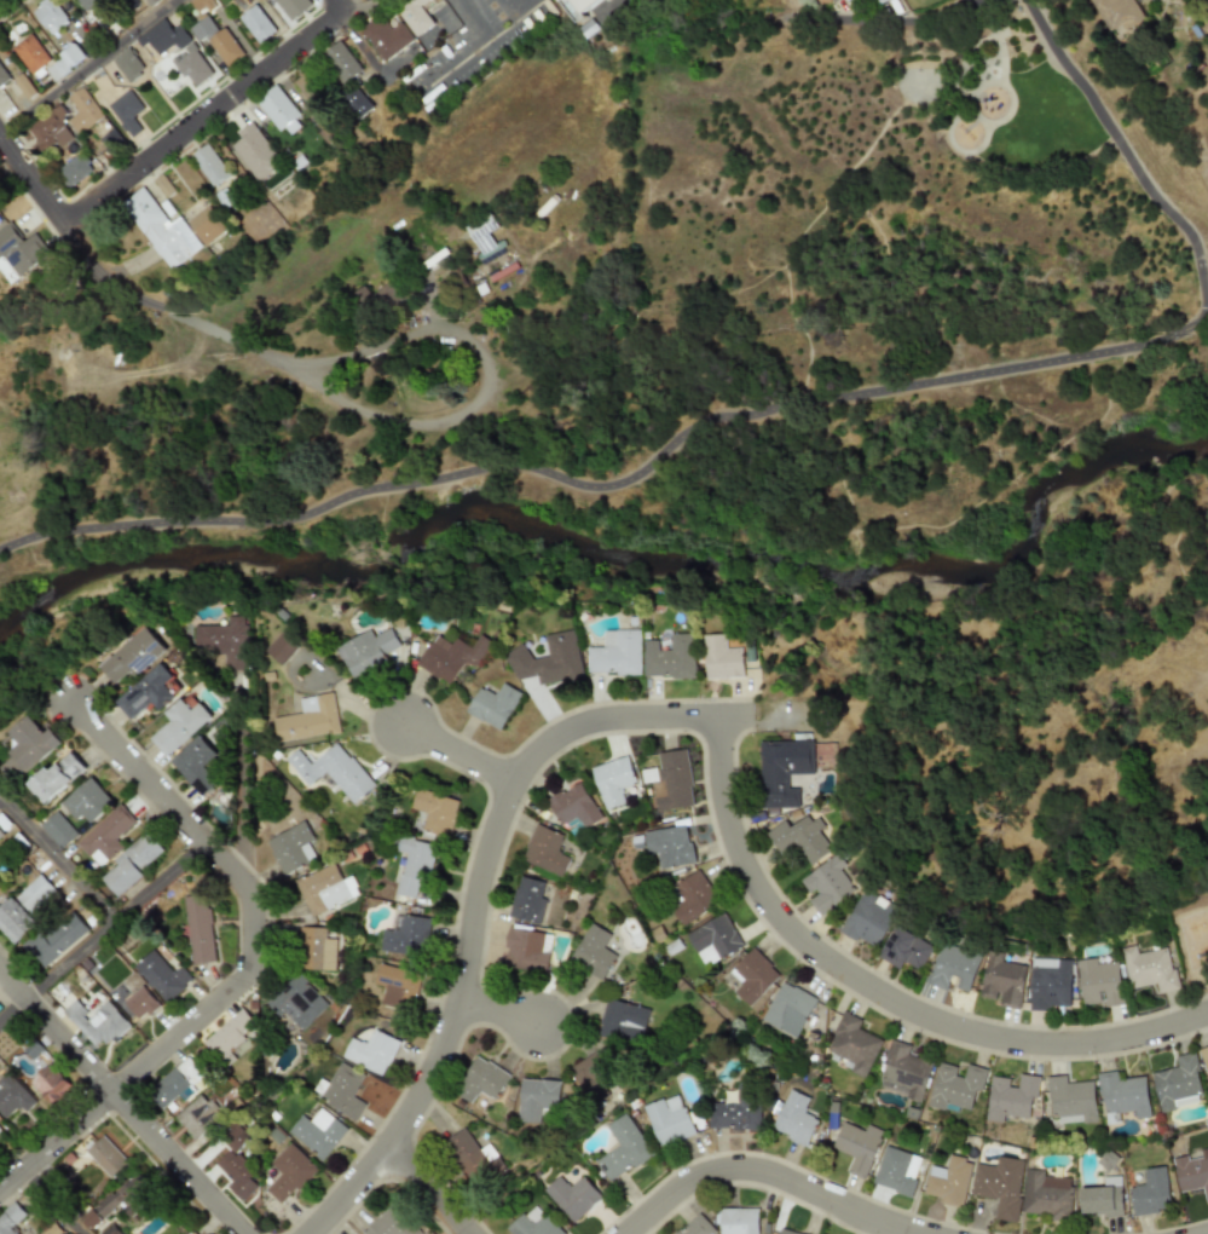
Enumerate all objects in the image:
building: (832, 0)
building: (1135, 0)
building: (879, 1)
road: (516, 2)
road: (343, 4)
building: (202, 5)
building: (295, 7)
building: (585, 7)
road: (954, 7)
building: (1115, 12)
building: (50, 16)
road: (850, 19)
building: (259, 24)
building: (388, 38)
building: (219, 40)
road: (359, 42)
road: (469, 45)
building: (31, 54)
building: (191, 54)
building: (345, 62)
building: (129, 64)
road: (88, 67)
building: (2, 77)
building: (308, 88)
building: (359, 103)
building: (85, 110)
building: (284, 111)
building: (128, 113)
road: (206, 115)
building: (52, 129)
building: (259, 152)
road: (1123, 155)
building: (213, 166)
building: (75, 171)
road: (33, 180)
building: (208, 226)
building: (163, 230)
park: (912, 231)
building: (482, 235)
building: (19, 253)
building: (374, 301)
road: (388, 341)
road: (613, 474)
river: (608, 546)
building: (225, 641)
building: (282, 648)
building: (366, 652)
building: (614, 653)
building: (134, 656)
building: (451, 656)
building: (669, 658)
building: (721, 658)
building: (548, 661)
building: (146, 693)
building: (492, 705)
building: (308, 719)
building: (179, 726)
building: (29, 746)
park: (1171, 749)
road: (459, 752)
building: (196, 765)
building: (333, 771)
building: (782, 771)
building: (56, 777)
building: (670, 780)
building: (612, 782)
road: (244, 791)
road: (158, 794)
road: (2, 796)
building: (86, 801)
building: (573, 806)
building: (435, 812)
building: (57, 830)
building: (1, 835)
building: (105, 835)
building: (800, 838)
building: (670, 846)
building: (291, 848)
building: (544, 850)
road: (62, 860)
building: (131, 864)
building: (412, 867)
building: (827, 886)
building: (324, 889)
building: (34, 894)
road: (478, 898)
building: (693, 898)
building: (527, 900)
building: (869, 919)
building: (12, 921)
building: (198, 929)
road: (103, 934)
building: (406, 938)
building: (53, 940)
building: (715, 940)
building: (316, 950)
building: (904, 950)
building: (525, 951)
building: (593, 952)
building: (954, 968)
building: (1149, 968)
building: (161, 976)
building: (752, 976)
building: (1002, 980)
building: (1099, 982)
building: (1050, 984)
building: (397, 987)
road: (880, 992)
building: (296, 1002)
building: (140, 1003)
building: (788, 1009)
road: (499, 1015)
building: (96, 1022)
building: (229, 1036)
building: (852, 1045)
building: (607, 1048)
building: (371, 1049)
road: (158, 1054)
building: (1204, 1055)
building: (903, 1072)
building: (480, 1080)
building: (173, 1083)
building: (51, 1084)
building: (1177, 1084)
building: (955, 1086)
building: (341, 1091)
building: (13, 1096)
building: (1122, 1096)
building: (1011, 1097)
building: (537, 1099)
building: (1070, 1100)
road: (122, 1102)
building: (736, 1112)
building: (198, 1115)
building: (794, 1119)
building: (669, 1120)
building: (0, 1130)
building: (318, 1132)
building: (859, 1147)
building: (623, 1149)
building: (105, 1157)
building: (472, 1158)
building: (896, 1171)
road: (762, 1172)
building: (1192, 1172)
building: (289, 1174)
building: (949, 1181)
building: (1000, 1186)
road: (432, 1188)
building: (1150, 1193)
building: (1047, 1195)
building: (572, 1196)
building: (126, 1198)
building: (1102, 1198)
road: (52, 1201)
building: (10, 1218)
building: (739, 1221)
building: (392, 1223)
building: (533, 1223)
building: (695, 1227)
building: (785, 1232)
building: (192, 1233)

